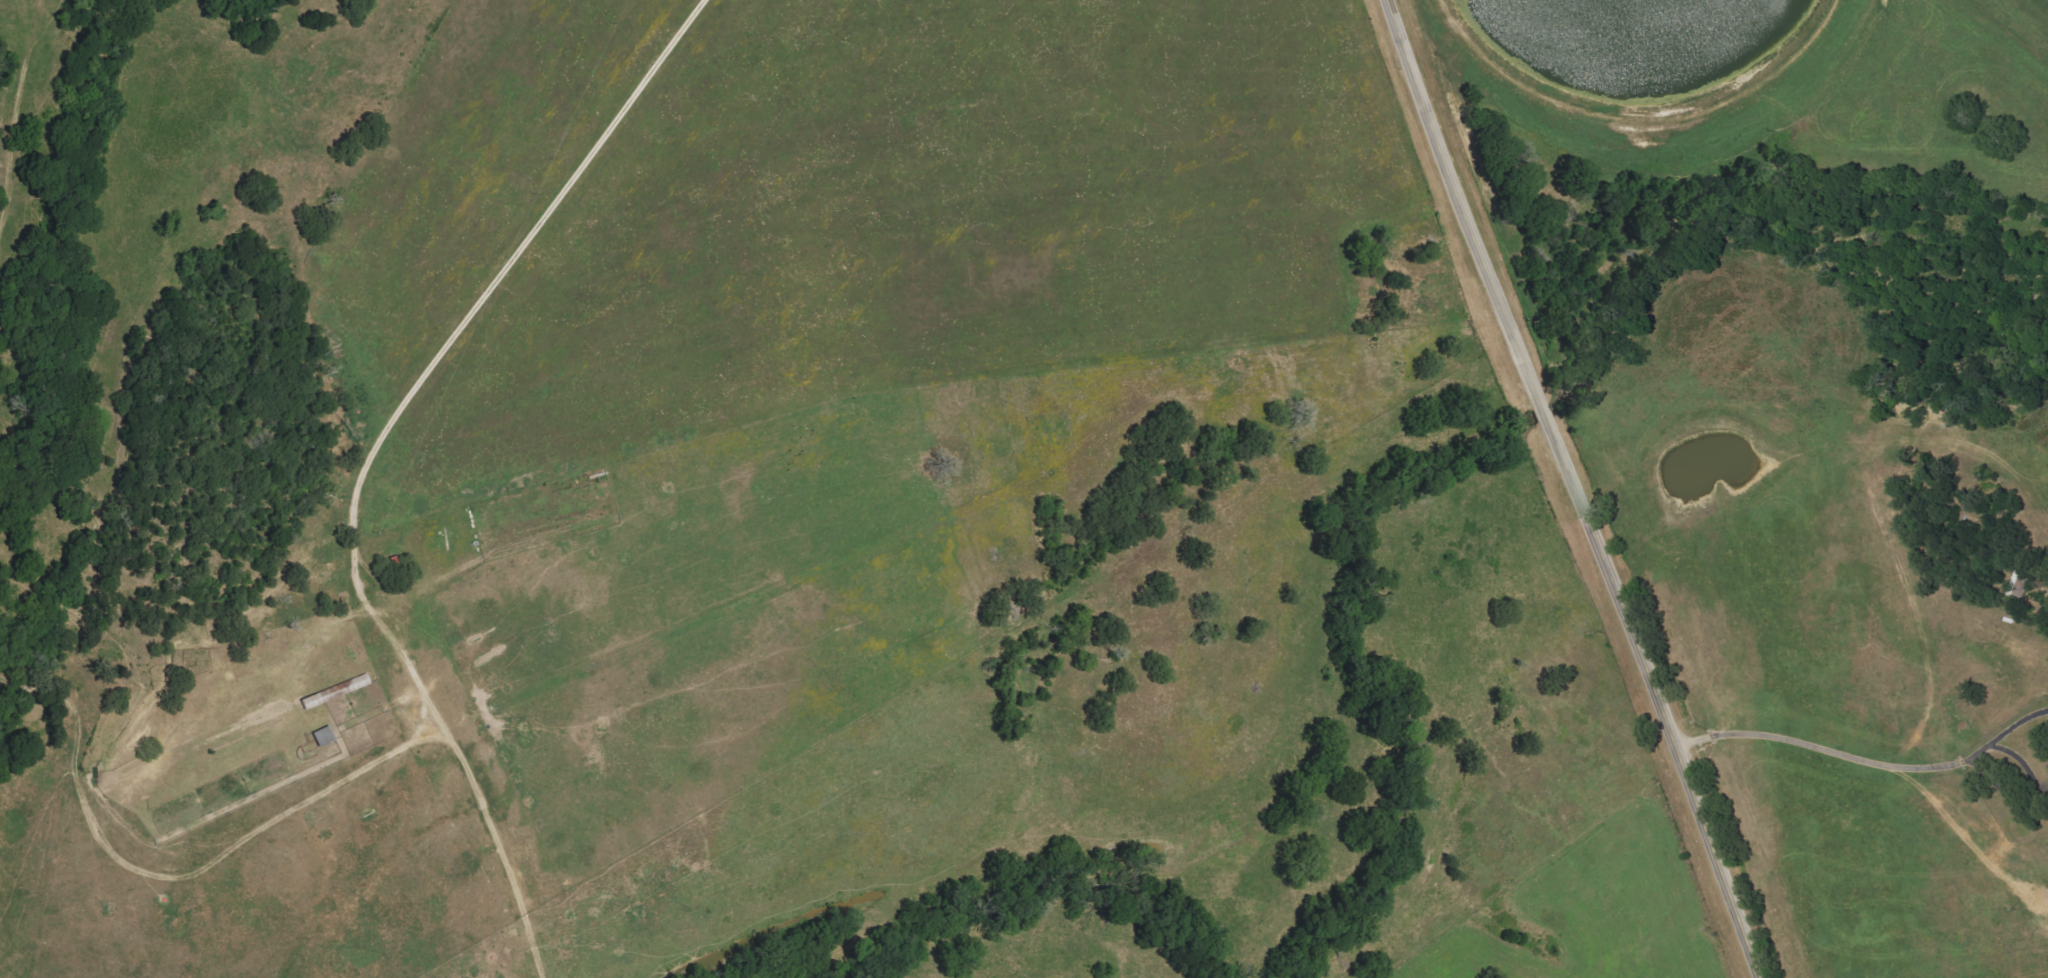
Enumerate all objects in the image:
road: (1574, 488)
road: (1835, 753)

